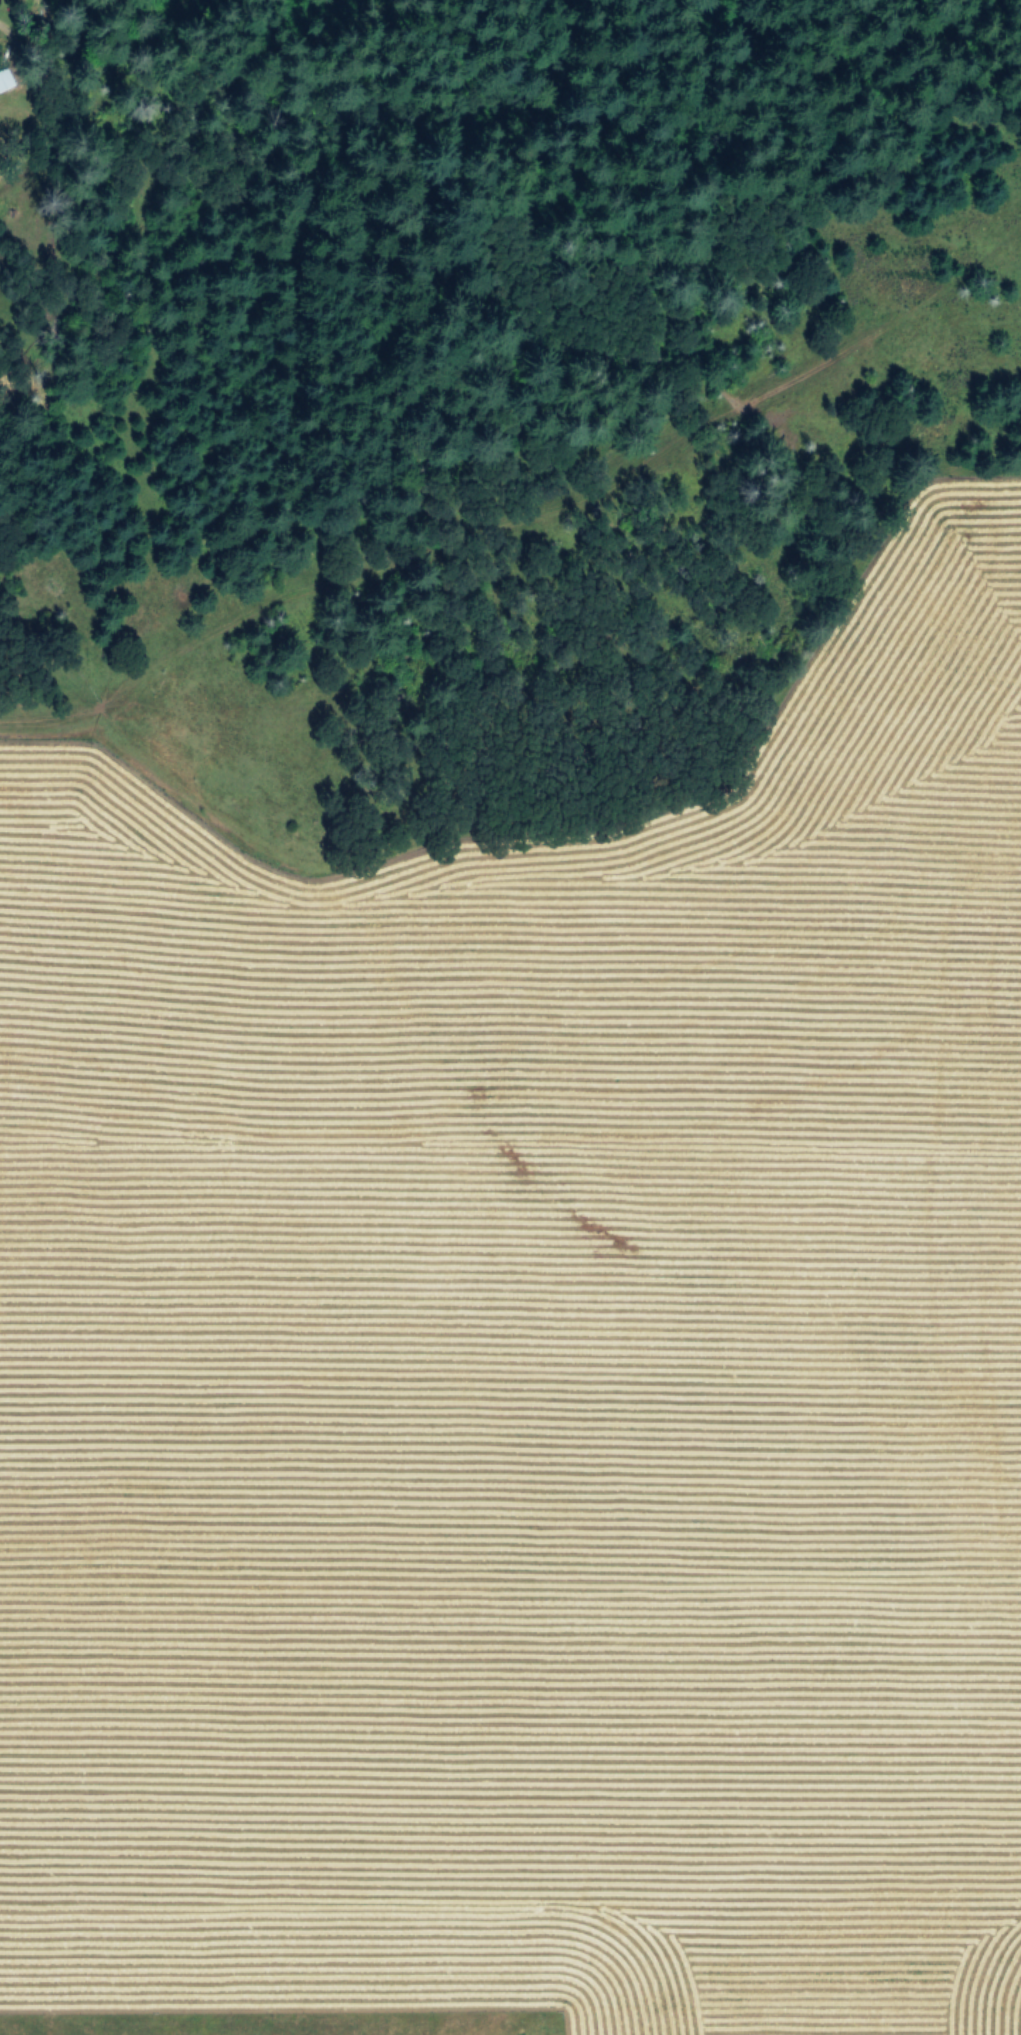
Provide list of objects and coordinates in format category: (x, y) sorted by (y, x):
road: (530, 511)

